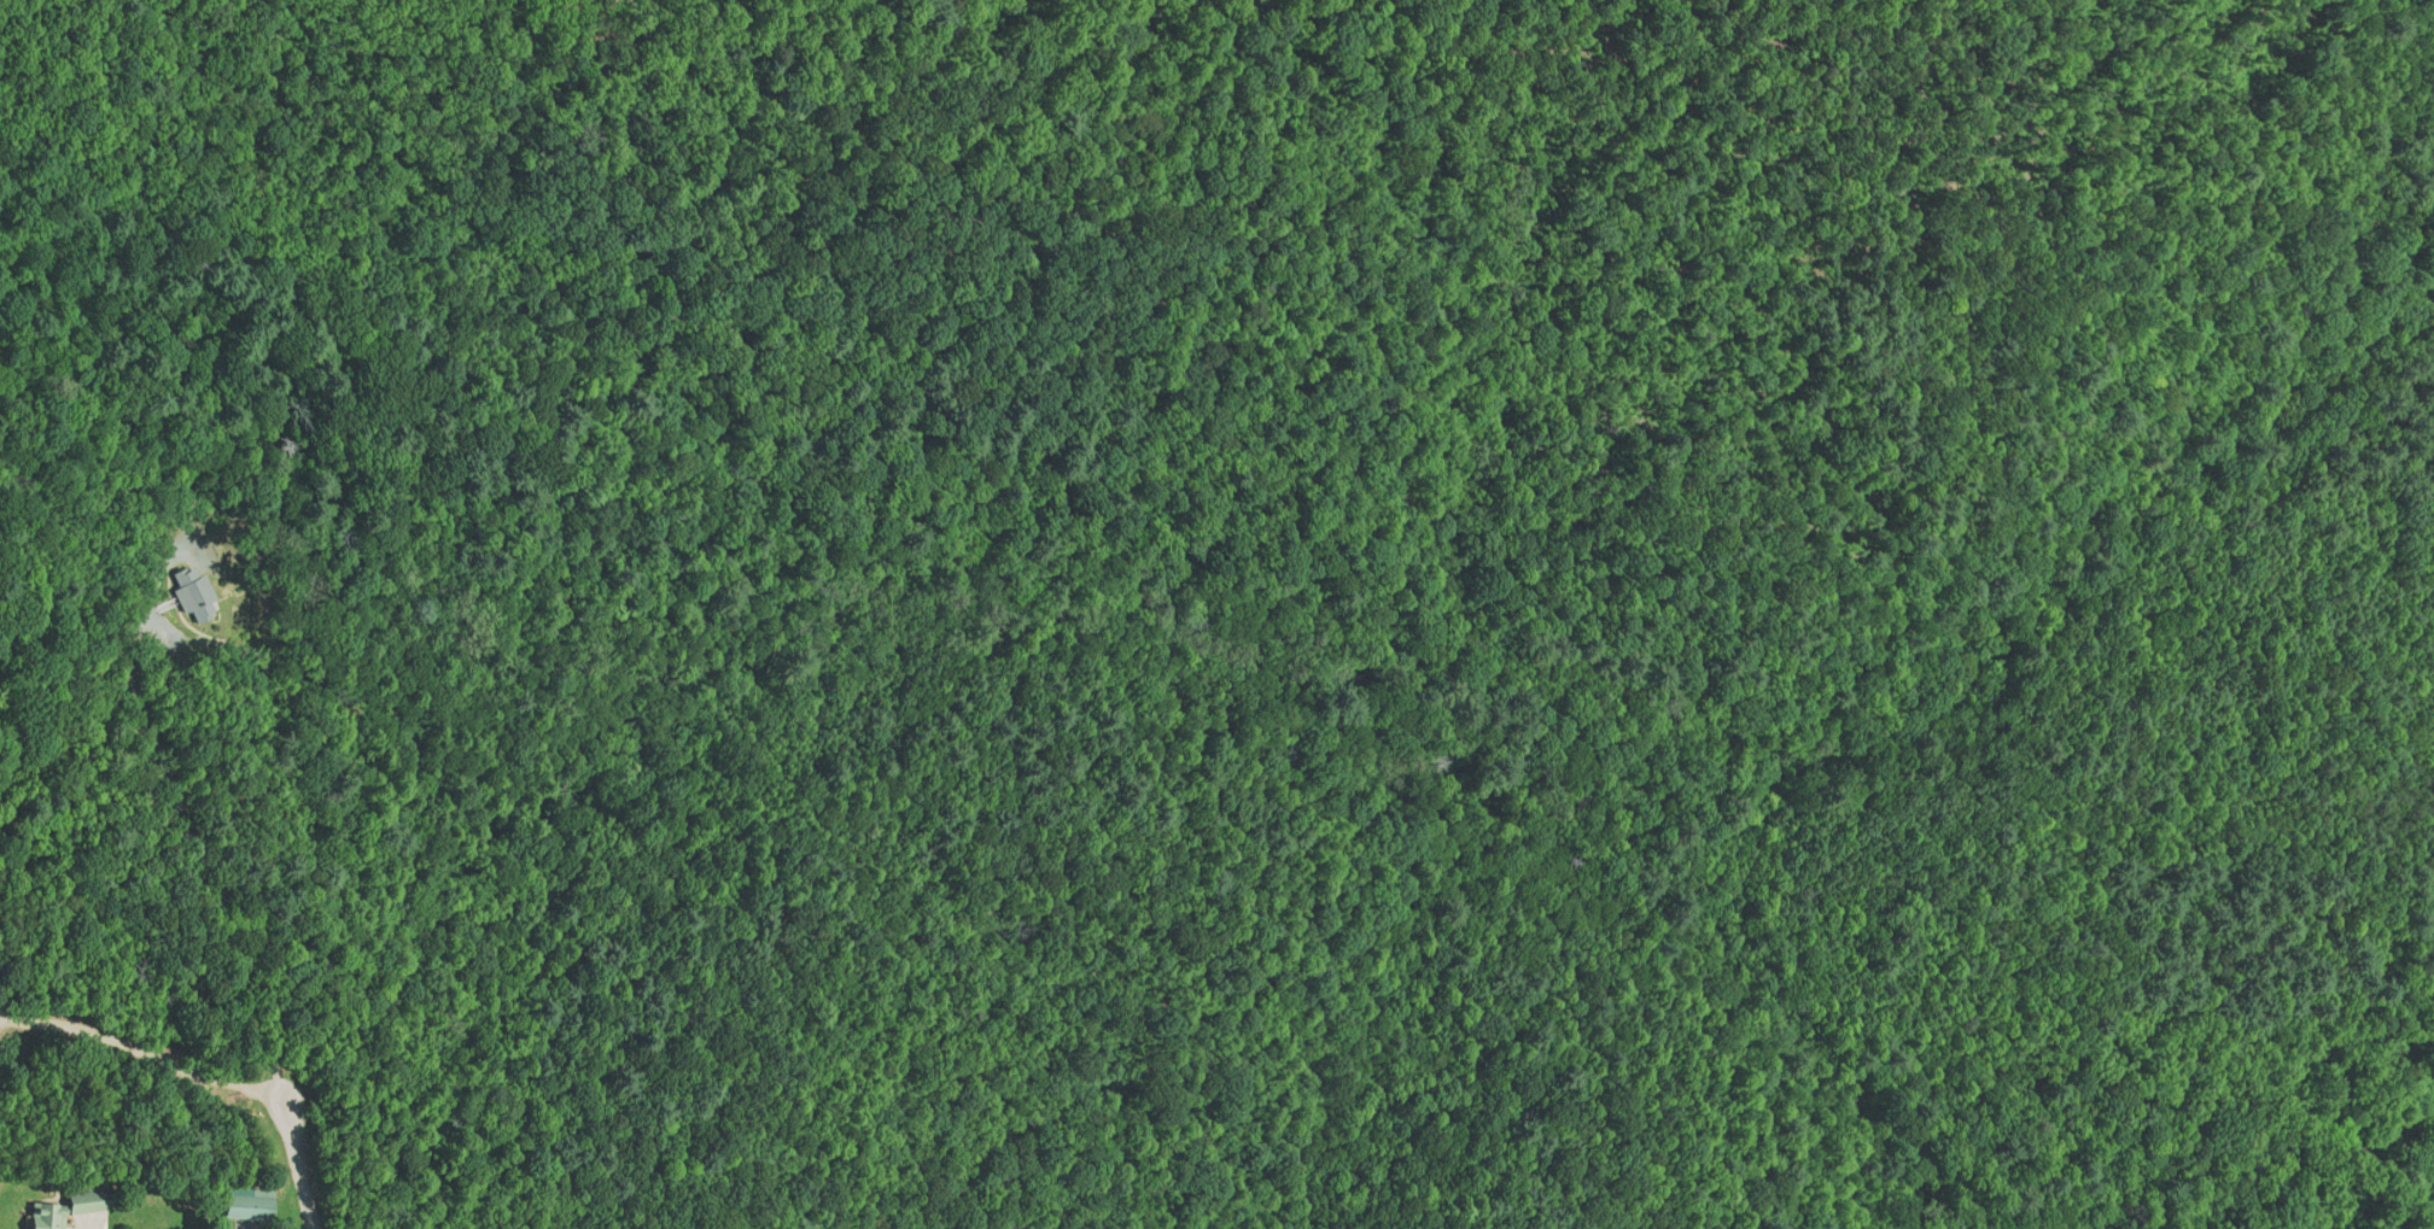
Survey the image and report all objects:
road: (140, 1049)
road: (298, 1157)
road: (2403, 1161)
building: (251, 1208)
building: (62, 1211)

